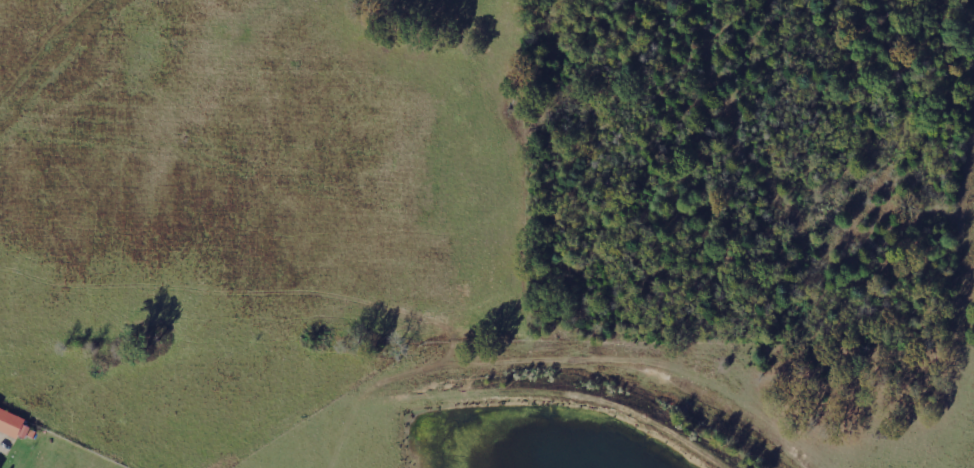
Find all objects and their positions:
building: (17, 426)

